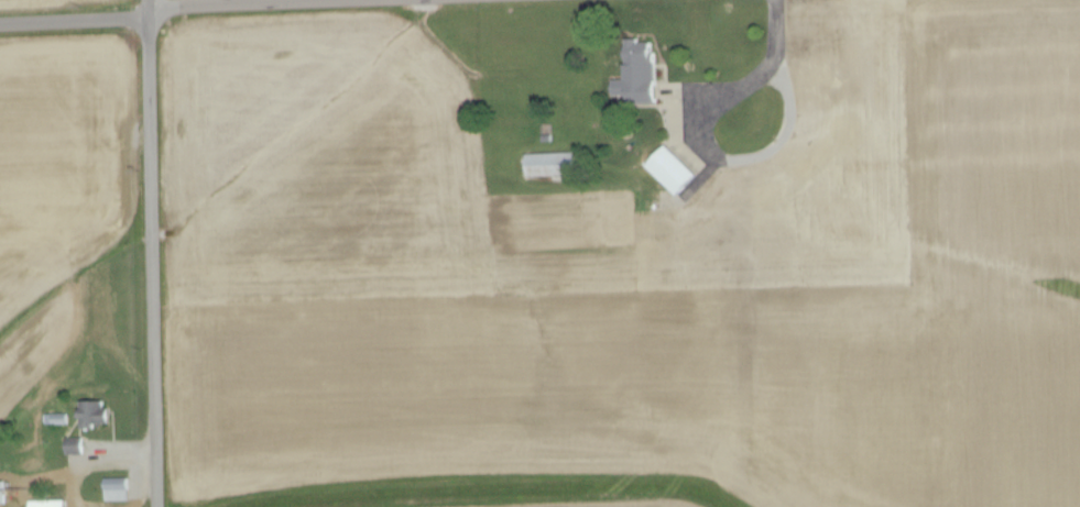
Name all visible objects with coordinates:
road: (209, 9)
road: (739, 64)
building: (635, 74)
building: (547, 164)
building: (668, 169)
road: (154, 253)
building: (91, 414)
building: (113, 489)

